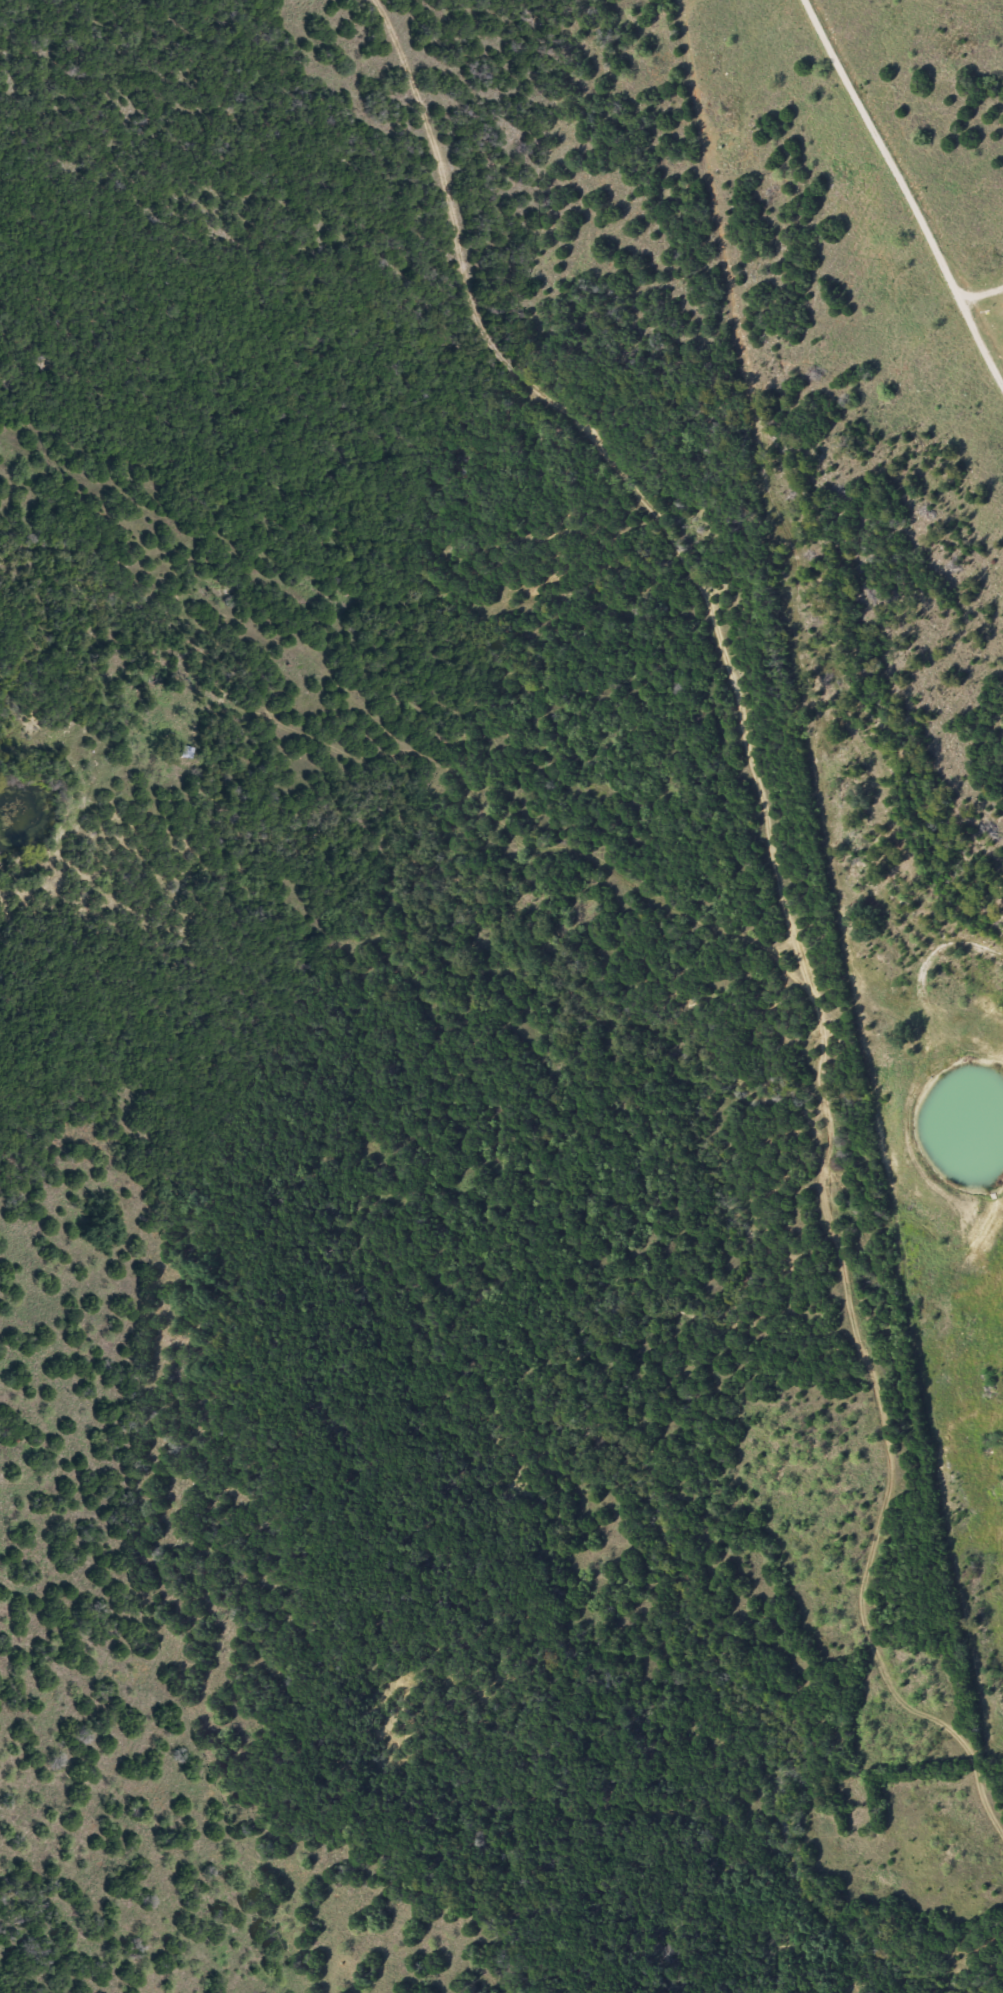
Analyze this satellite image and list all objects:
road: (790, 893)
road: (886, 1376)

